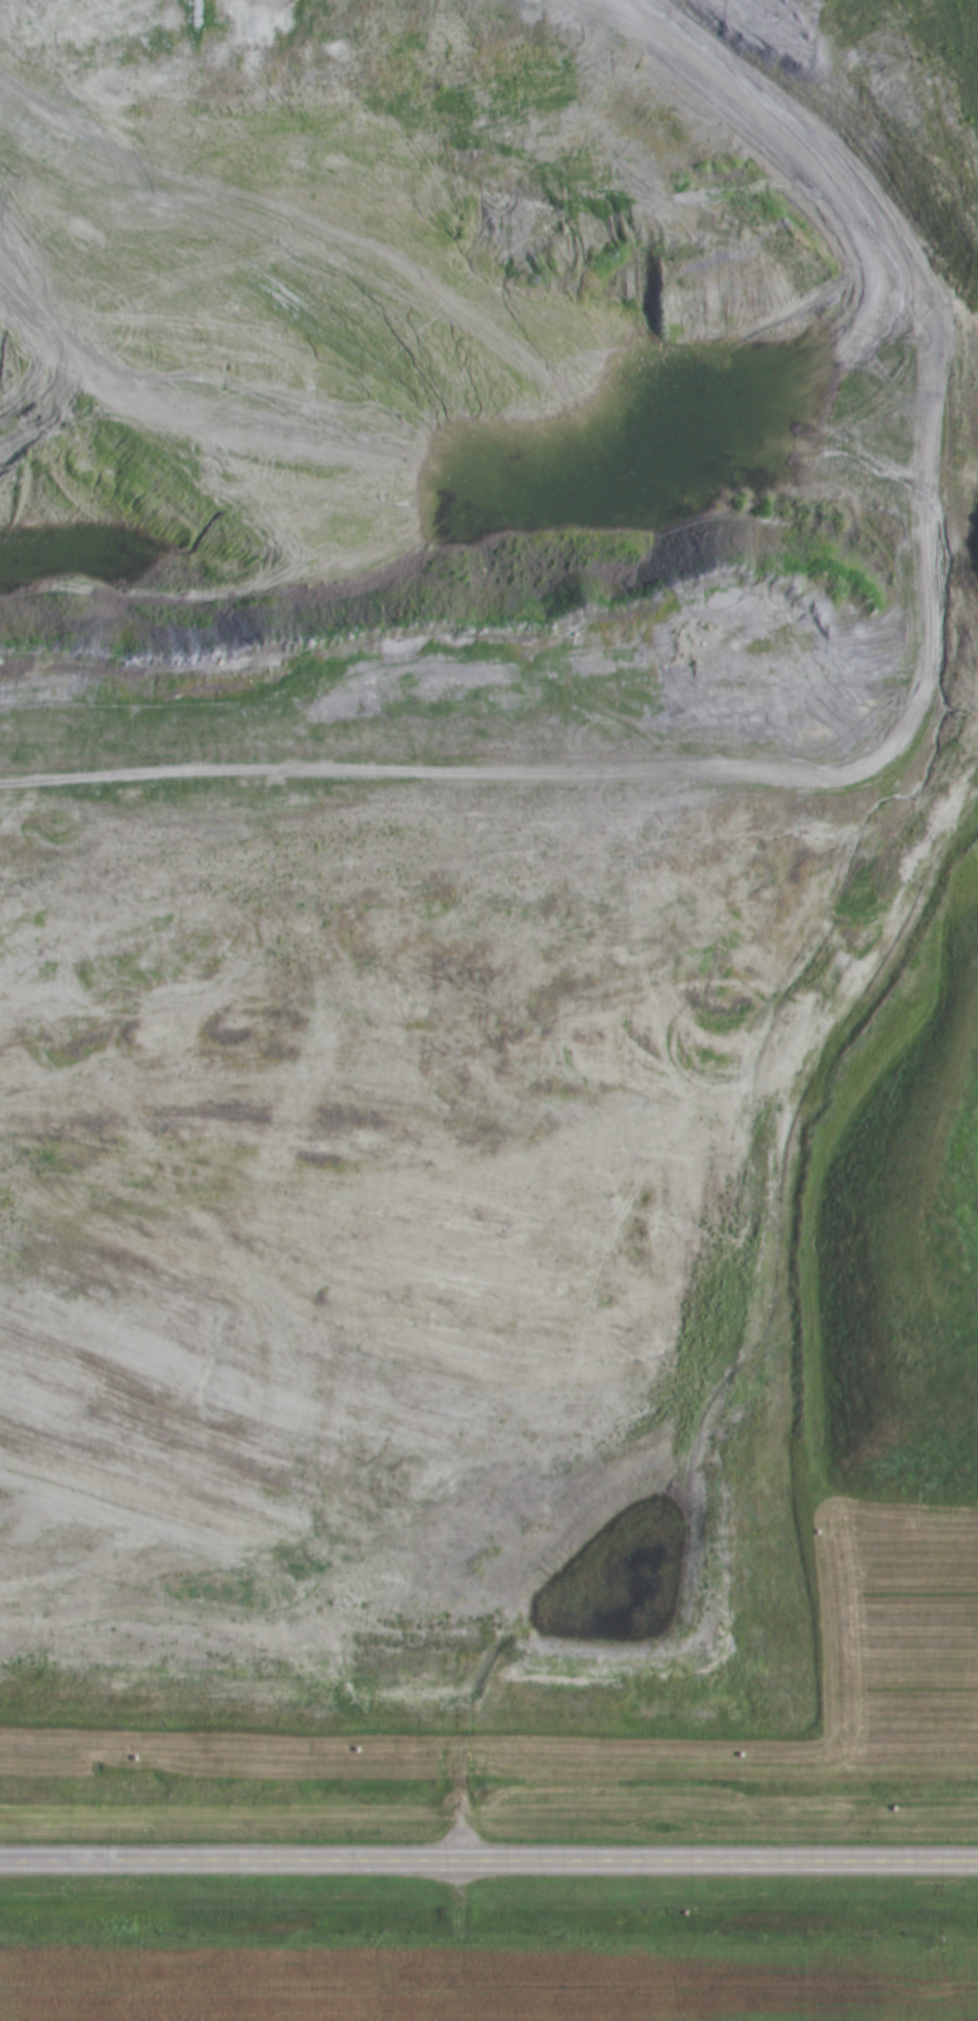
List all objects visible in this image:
quarry: (490, 236)
road: (460, 1788)
road: (488, 1860)

